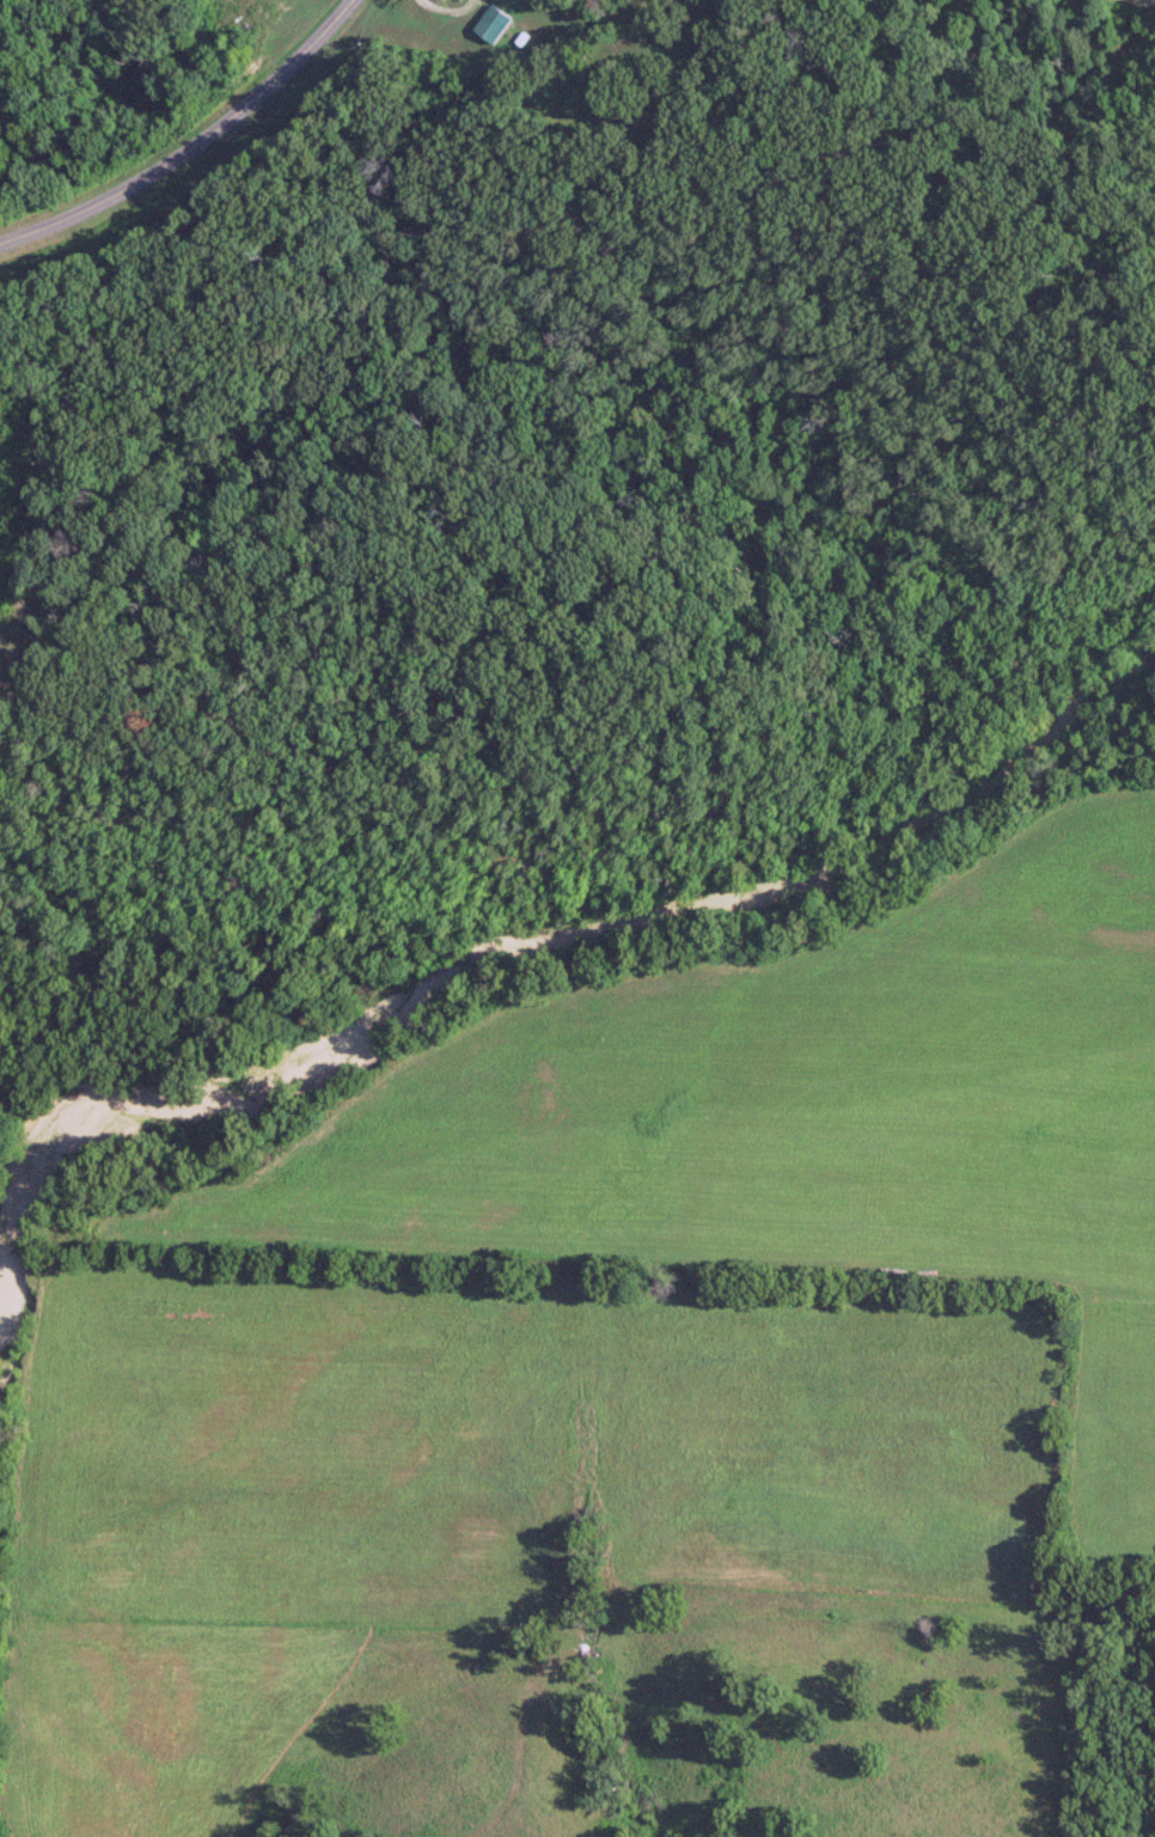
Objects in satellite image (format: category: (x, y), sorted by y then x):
building: (490, 22)
road: (189, 144)
road: (11, 1121)

